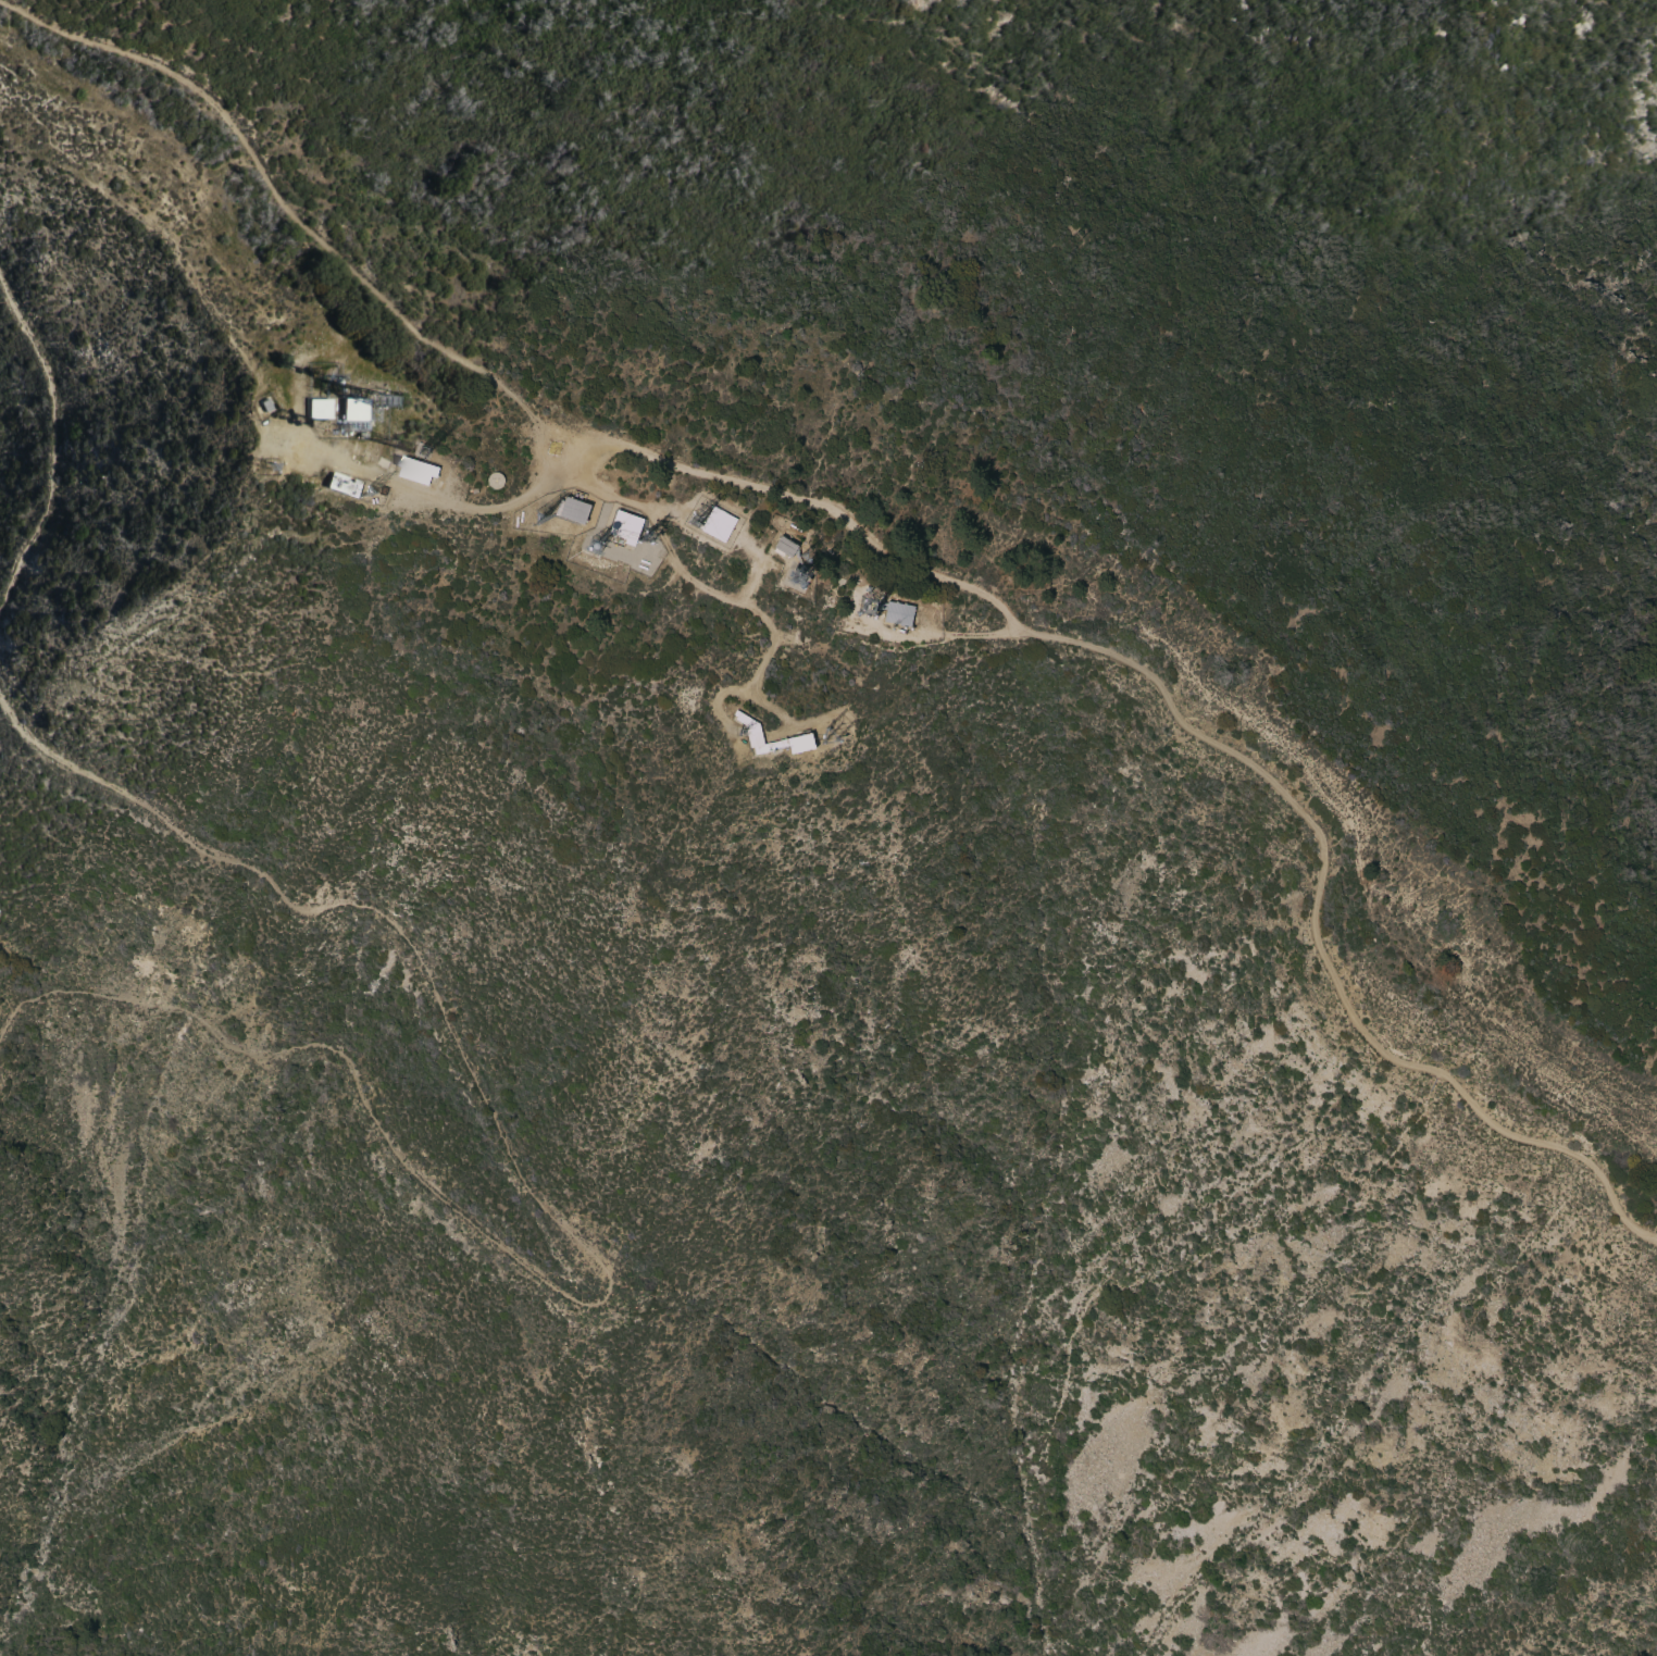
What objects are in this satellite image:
road: (288, 199)
road: (166, 242)
building: (265, 404)
building: (319, 408)
building: (353, 414)
road: (51, 438)
helipad: (552, 450)
building: (418, 471)
building: (494, 480)
building: (342, 485)
road: (435, 497)
building: (572, 509)
building: (717, 523)
building: (625, 526)
building: (784, 547)
road: (760, 570)
building: (896, 612)
road: (932, 628)
road: (780, 632)
road: (715, 698)
building: (756, 731)
road: (1208, 735)
road: (569, 1232)

